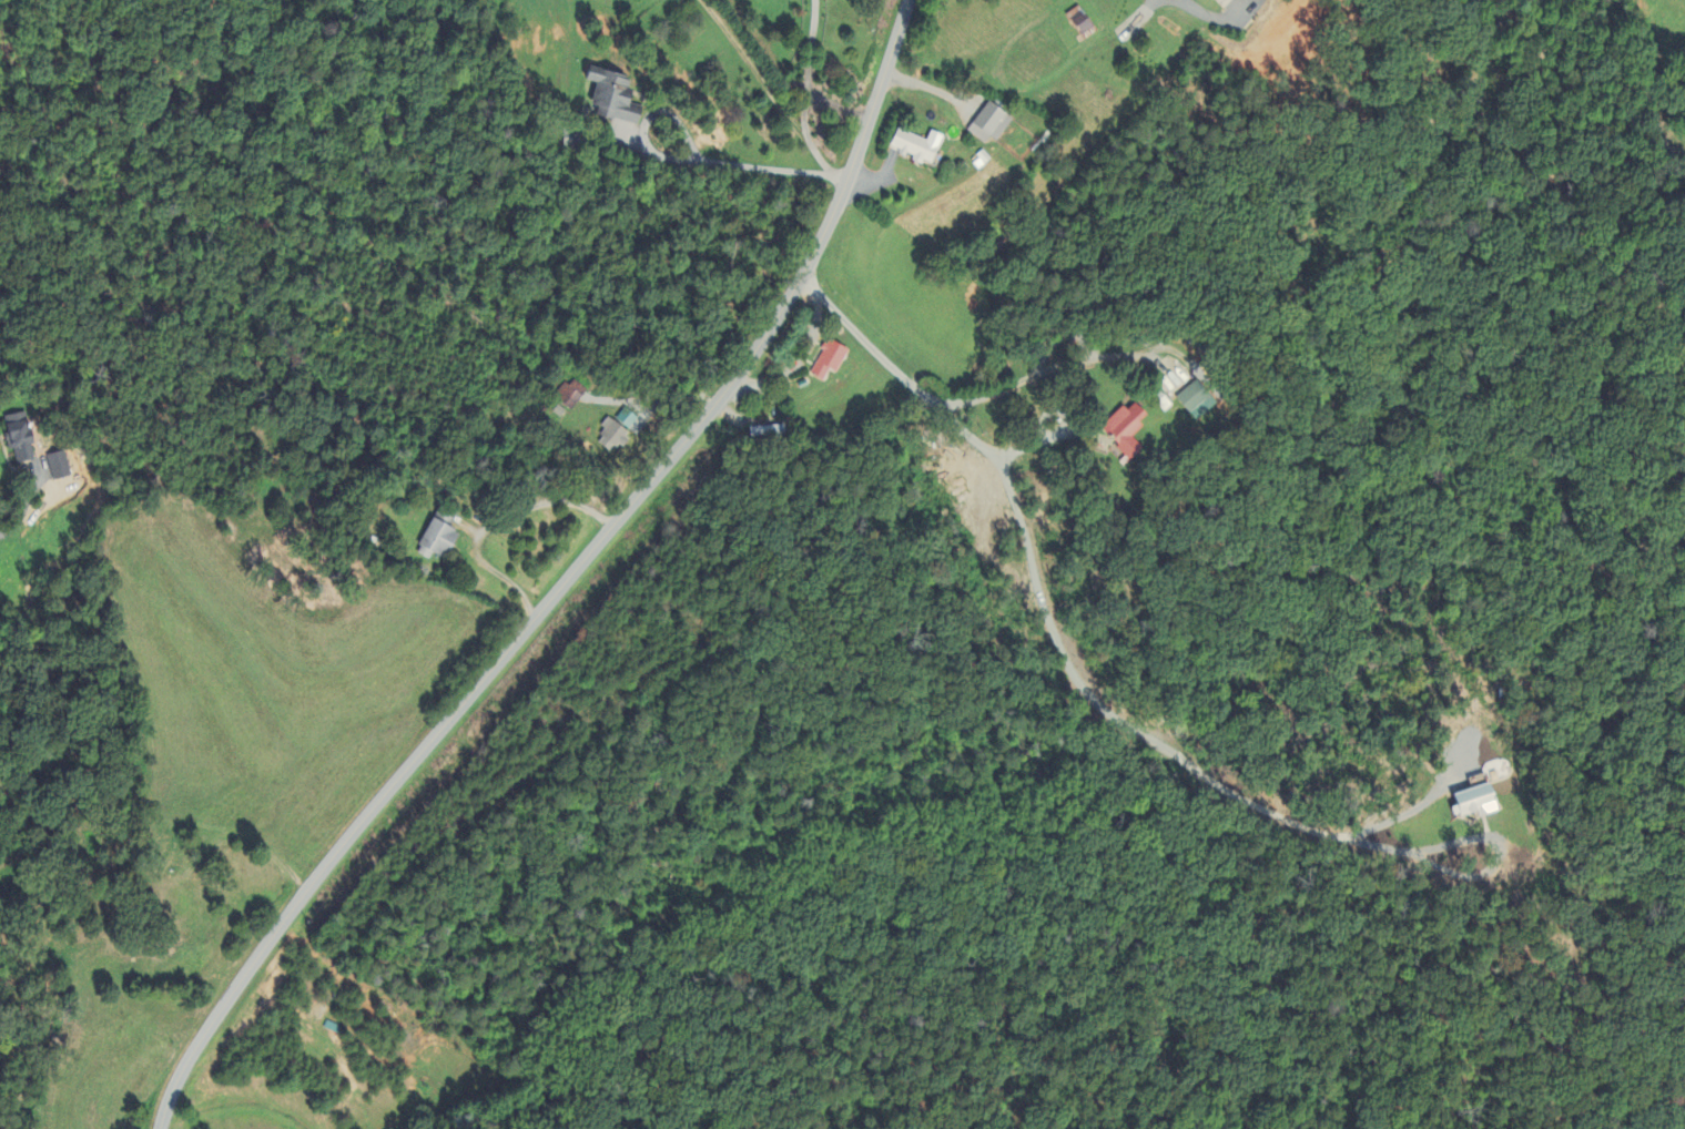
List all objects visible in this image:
building: (1221, 0)
road: (1215, 10)
building: (1080, 22)
road: (806, 98)
building: (616, 99)
road: (839, 106)
building: (992, 125)
building: (632, 138)
building: (918, 148)
road: (750, 167)
building: (830, 360)
road: (1055, 362)
road: (796, 363)
building: (571, 395)
building: (1197, 401)
building: (1128, 429)
building: (613, 436)
building: (21, 438)
building: (59, 467)
road: (23, 509)
road: (495, 525)
building: (438, 541)
road: (566, 581)
road: (1069, 641)
building: (1478, 803)

